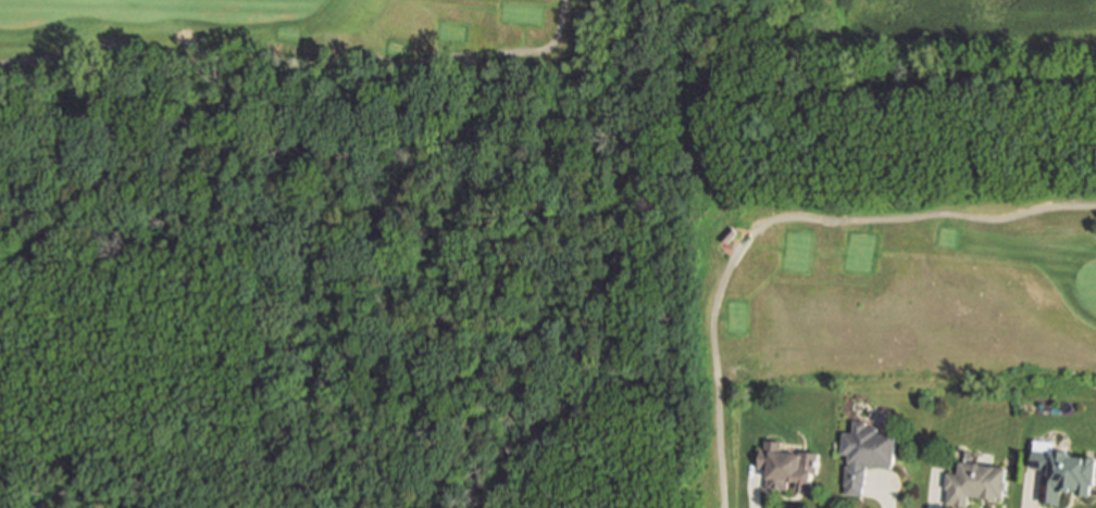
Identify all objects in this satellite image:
crop: (942, 36)
park: (352, 39)
road: (299, 51)
road: (779, 218)
building: (731, 233)
park: (913, 297)
building: (867, 452)
building: (789, 463)
building: (1064, 471)
building: (976, 481)

